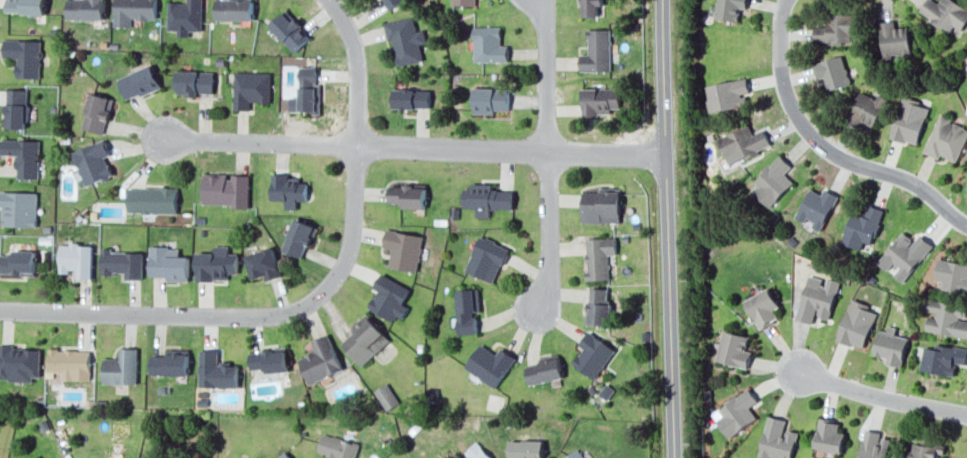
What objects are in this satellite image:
building: (464, 2)
building: (390, 3)
building: (26, 6)
building: (590, 7)
building: (86, 9)
building: (234, 9)
building: (730, 9)
building: (134, 11)
building: (946, 13)
building: (185, 16)
building: (837, 29)
building: (290, 30)
building: (894, 39)
building: (405, 40)
building: (488, 44)
building: (597, 51)
building: (24, 56)
road: (355, 68)
building: (833, 72)
road: (546, 75)
building: (139, 82)
building: (194, 82)
building: (251, 89)
building: (307, 92)
building: (726, 94)
building: (412, 98)
building: (491, 99)
building: (599, 100)
building: (16, 108)
building: (867, 109)
building: (966, 112)
building: (97, 113)
building: (909, 121)
building: (946, 139)
building: (742, 143)
road: (413, 147)
road: (824, 149)
building: (24, 156)
building: (93, 161)
building: (773, 180)
building: (226, 189)
building: (288, 190)
building: (406, 195)
building: (487, 199)
building: (152, 200)
building: (601, 205)
building: (817, 206)
building: (18, 208)
building: (863, 227)
road: (666, 229)
building: (299, 238)
road: (544, 242)
building: (404, 249)
building: (905, 254)
building: (599, 256)
building: (487, 258)
building: (77, 259)
building: (17, 262)
building: (123, 263)
building: (168, 263)
building: (216, 264)
building: (263, 264)
building: (952, 275)
building: (390, 297)
building: (817, 298)
building: (598, 306)
building: (763, 307)
building: (467, 310)
road: (242, 316)
building: (946, 318)
building: (857, 324)
building: (365, 339)
building: (891, 346)
building: (734, 349)
building: (593, 355)
building: (943, 359)
building: (268, 360)
building: (321, 360)
building: (19, 363)
building: (70, 363)
building: (170, 363)
building: (490, 364)
building: (121, 367)
building: (544, 369)
building: (216, 371)
road: (868, 389)
building: (386, 396)
building: (736, 412)
building: (829, 435)
building: (777, 439)
building: (874, 445)
building: (337, 447)
building: (525, 448)
building: (924, 450)
building: (477, 451)
building: (574, 454)
building: (283, 455)

